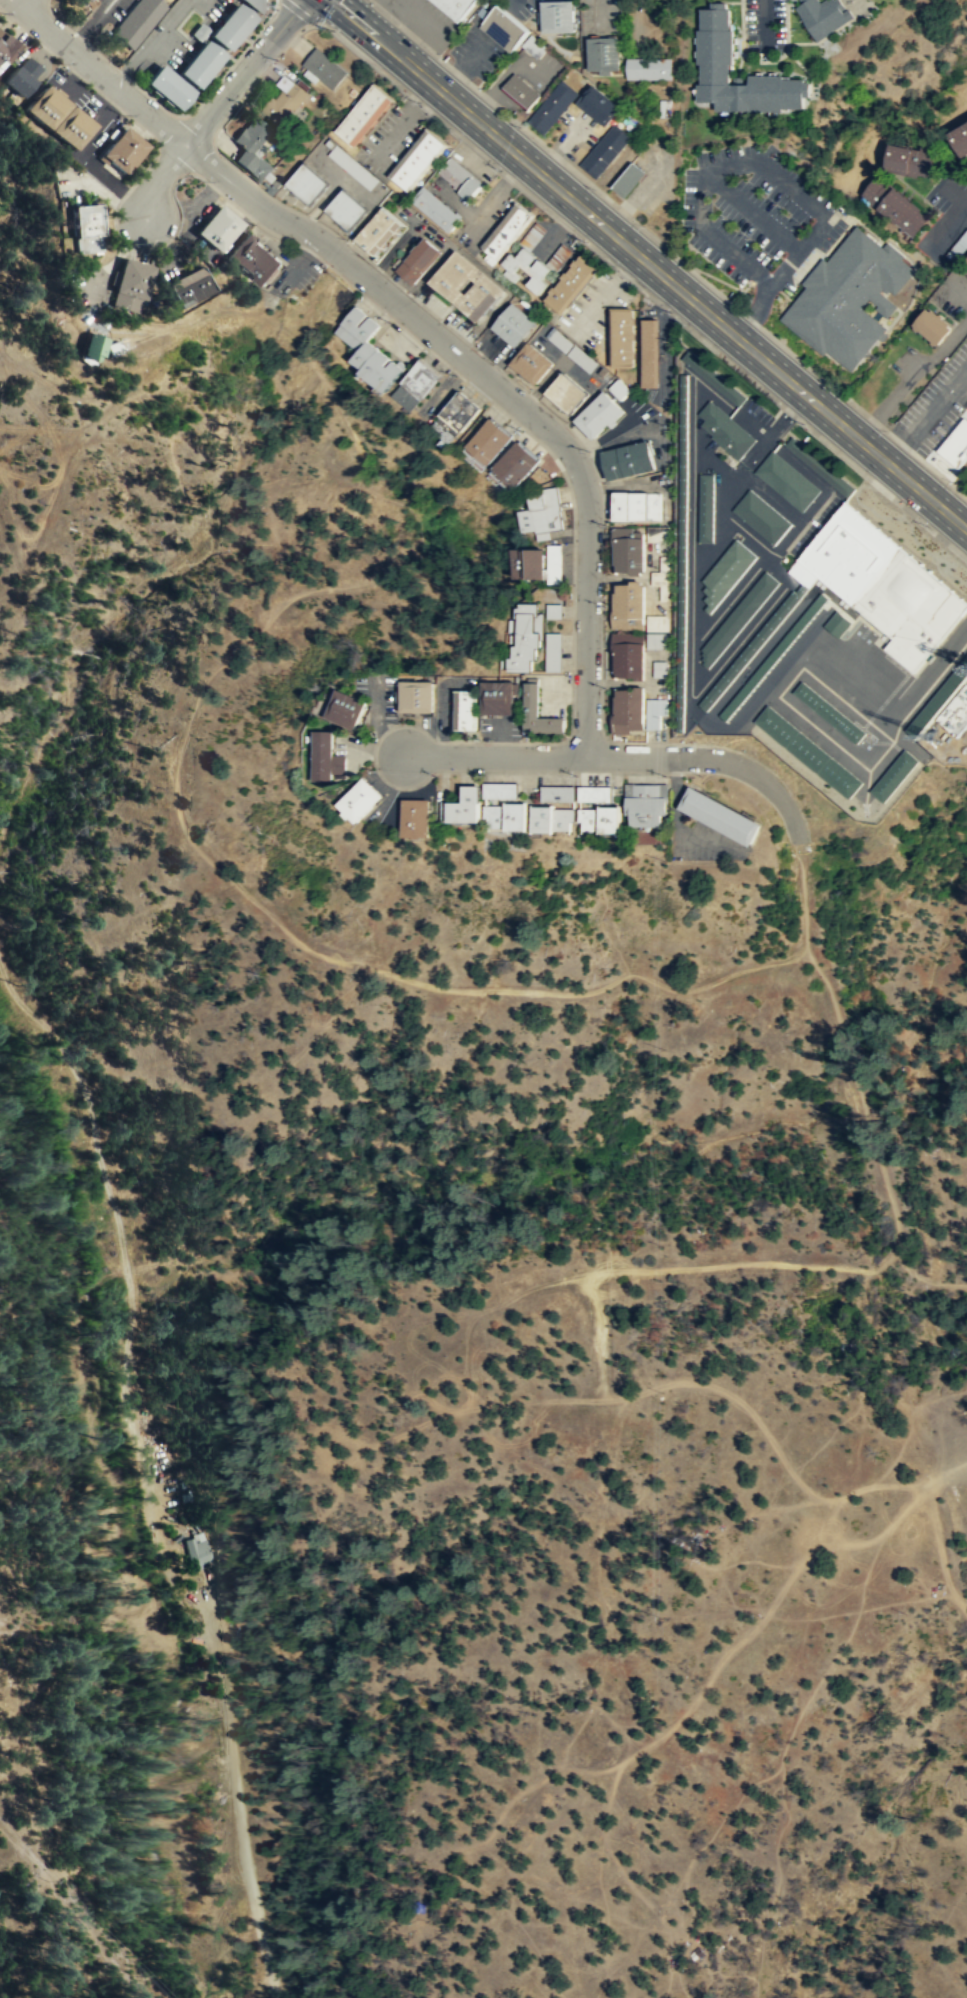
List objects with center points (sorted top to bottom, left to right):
building: (253, 4)
building: (456, 7)
building: (558, 16)
building: (824, 16)
building: (137, 20)
road: (764, 21)
building: (229, 25)
building: (504, 27)
building: (198, 32)
building: (717, 41)
building: (534, 46)
building: (6, 48)
building: (605, 54)
building: (198, 63)
building: (323, 69)
building: (649, 69)
road: (242, 72)
building: (23, 76)
building: (166, 86)
building: (521, 92)
building: (285, 99)
building: (598, 104)
building: (552, 106)
building: (367, 115)
building: (58, 116)
road: (402, 119)
building: (959, 138)
building: (254, 148)
building: (123, 150)
building: (605, 150)
building: (420, 159)
building: (907, 160)
road: (704, 171)
building: (461, 179)
building: (628, 179)
road: (158, 181)
building: (310, 184)
road: (954, 192)
building: (894, 205)
building: (438, 209)
road: (751, 211)
parking lot: (757, 217)
road: (949, 218)
building: (367, 221)
building: (218, 227)
building: (88, 229)
building: (507, 233)
building: (563, 251)
building: (256, 259)
building: (417, 261)
road: (650, 264)
building: (527, 269)
road: (777, 275)
building: (129, 284)
building: (572, 284)
building: (189, 286)
building: (470, 286)
building: (849, 298)
road: (416, 320)
building: (515, 325)
building: (935, 326)
building: (624, 336)
building: (92, 347)
building: (370, 349)
building: (652, 353)
building: (534, 363)
road: (687, 371)
building: (713, 377)
road: (961, 382)
building: (417, 385)
building: (565, 392)
road: (961, 394)
building: (460, 412)
building: (598, 414)
road: (753, 425)
road: (76, 427)
building: (725, 430)
road: (774, 430)
road: (925, 430)
building: (488, 440)
building: (956, 446)
building: (627, 459)
building: (515, 464)
road: (716, 465)
building: (820, 467)
road: (803, 468)
parking lot: (966, 477)
building: (786, 480)
road: (692, 487)
road: (771, 497)
building: (636, 505)
building: (705, 507)
building: (542, 514)
road: (726, 516)
building: (761, 516)
road: (799, 520)
building: (656, 533)
building: (681, 548)
building: (525, 562)
building: (554, 564)
building: (725, 572)
building: (659, 573)
building: (880, 584)
road: (409, 592)
building: (554, 611)
building: (737, 618)
building: (837, 623)
road: (708, 627)
building: (635, 630)
building: (522, 636)
road: (736, 645)
building: (751, 647)
building: (553, 652)
building: (659, 669)
building: (414, 694)
building: (496, 697)
building: (937, 697)
building: (345, 708)
building: (464, 709)
building: (630, 710)
building: (537, 711)
building: (655, 712)
building: (829, 713)
building: (955, 713)
building: (807, 752)
building: (325, 757)
road: (620, 758)
building: (893, 775)
building: (501, 791)
building: (558, 794)
building: (595, 794)
building: (359, 799)
building: (645, 803)
building: (464, 805)
road: (177, 806)
building: (720, 815)
building: (503, 816)
building: (414, 817)
building: (549, 818)
building: (598, 818)
road: (856, 1086)
road: (464, 1360)
road: (602, 1391)
road: (585, 1476)
road: (841, 1540)
road: (940, 1550)
building: (197, 1551)
road: (797, 1568)
road: (754, 1609)
road: (699, 1692)
road: (792, 1726)
road: (233, 1786)
road: (670, 1894)
road: (941, 1940)

